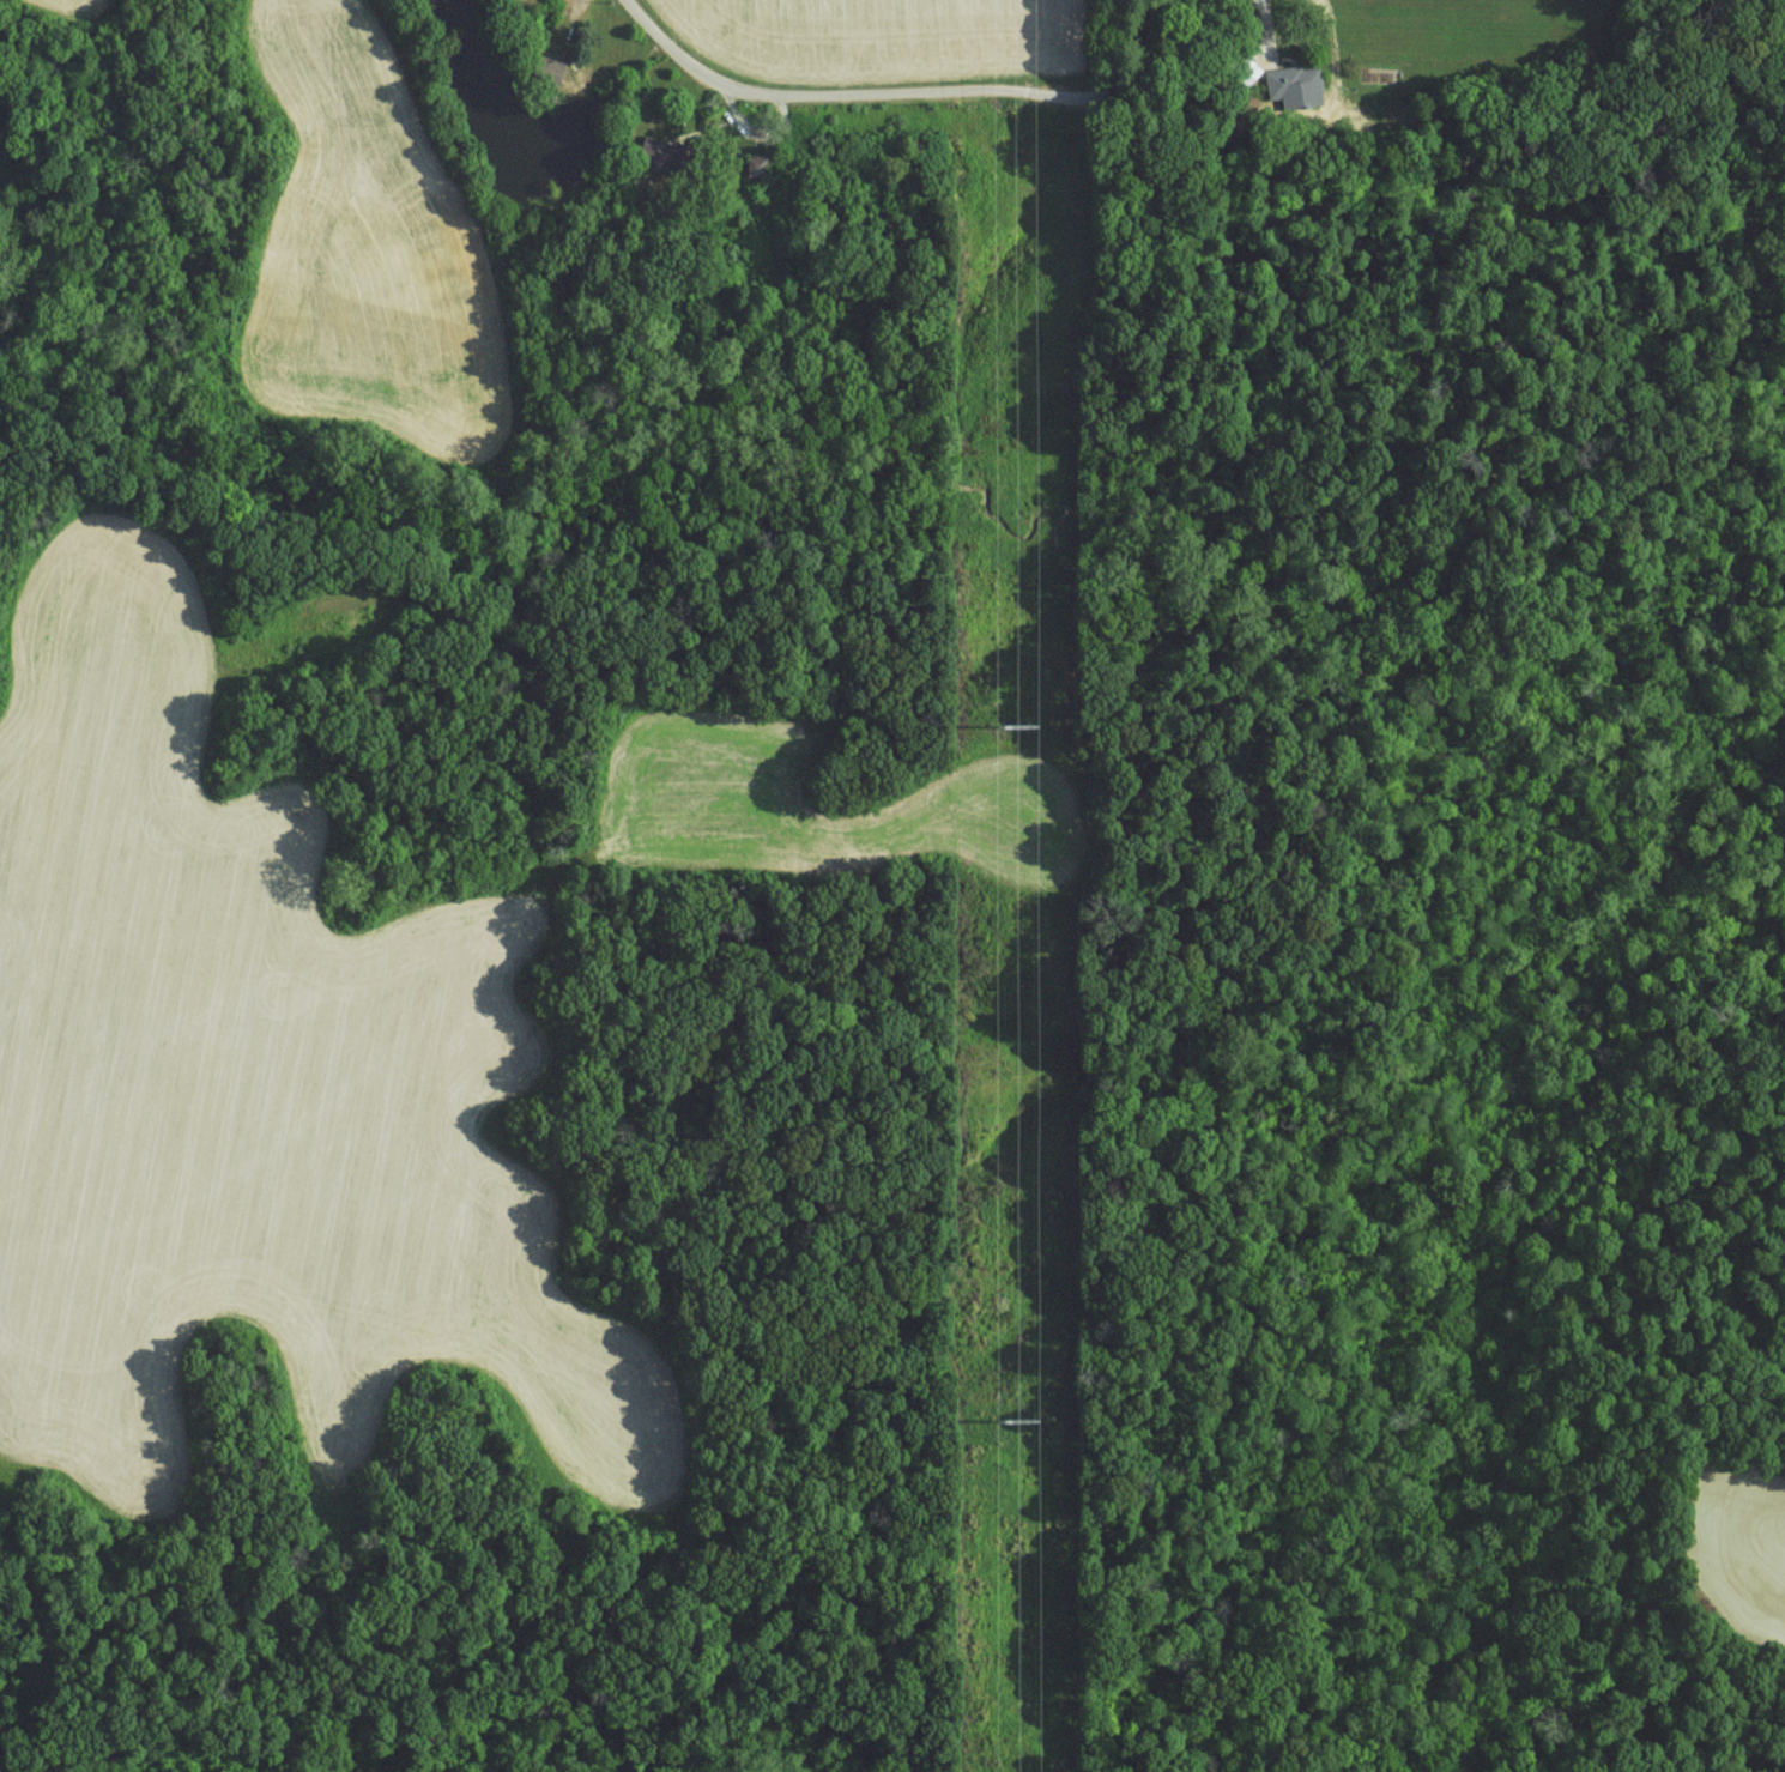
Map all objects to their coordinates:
building: (1247, 66)
building: (544, 68)
building: (1294, 85)
road: (853, 93)
building: (648, 150)
building: (756, 163)
power tower: (1018, 728)
power tower: (1022, 1421)

